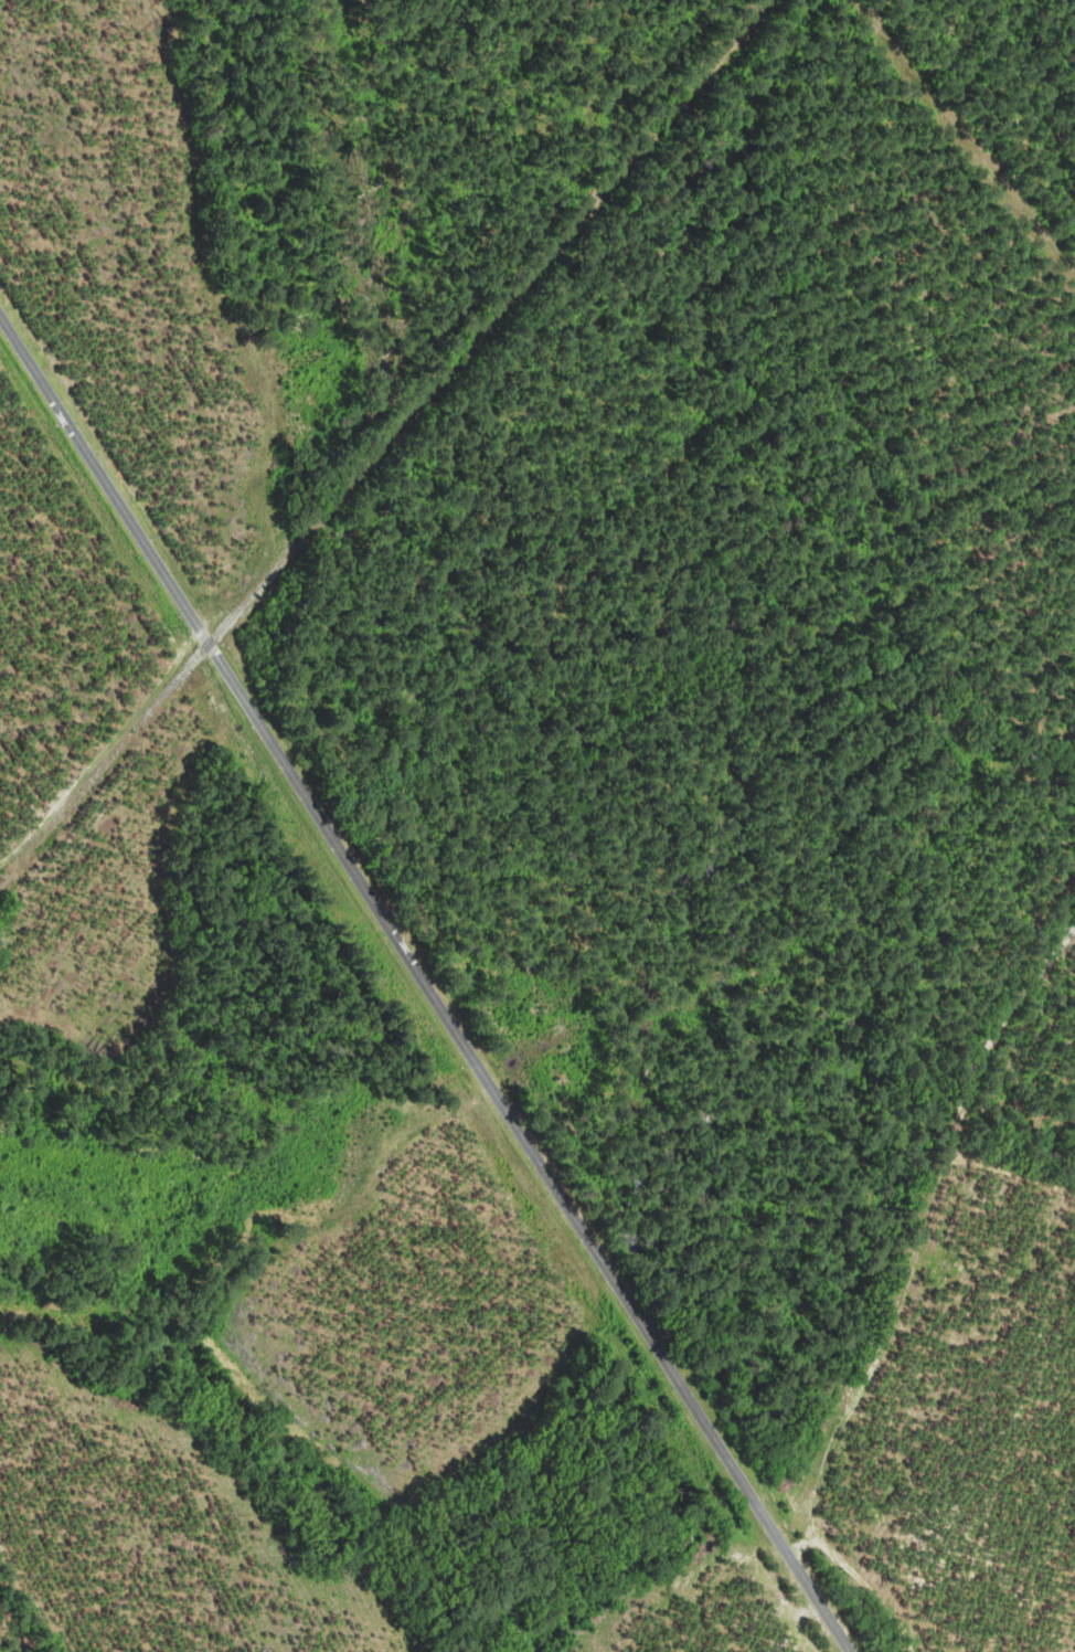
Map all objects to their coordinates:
railway: (382, 441)
road: (425, 983)

